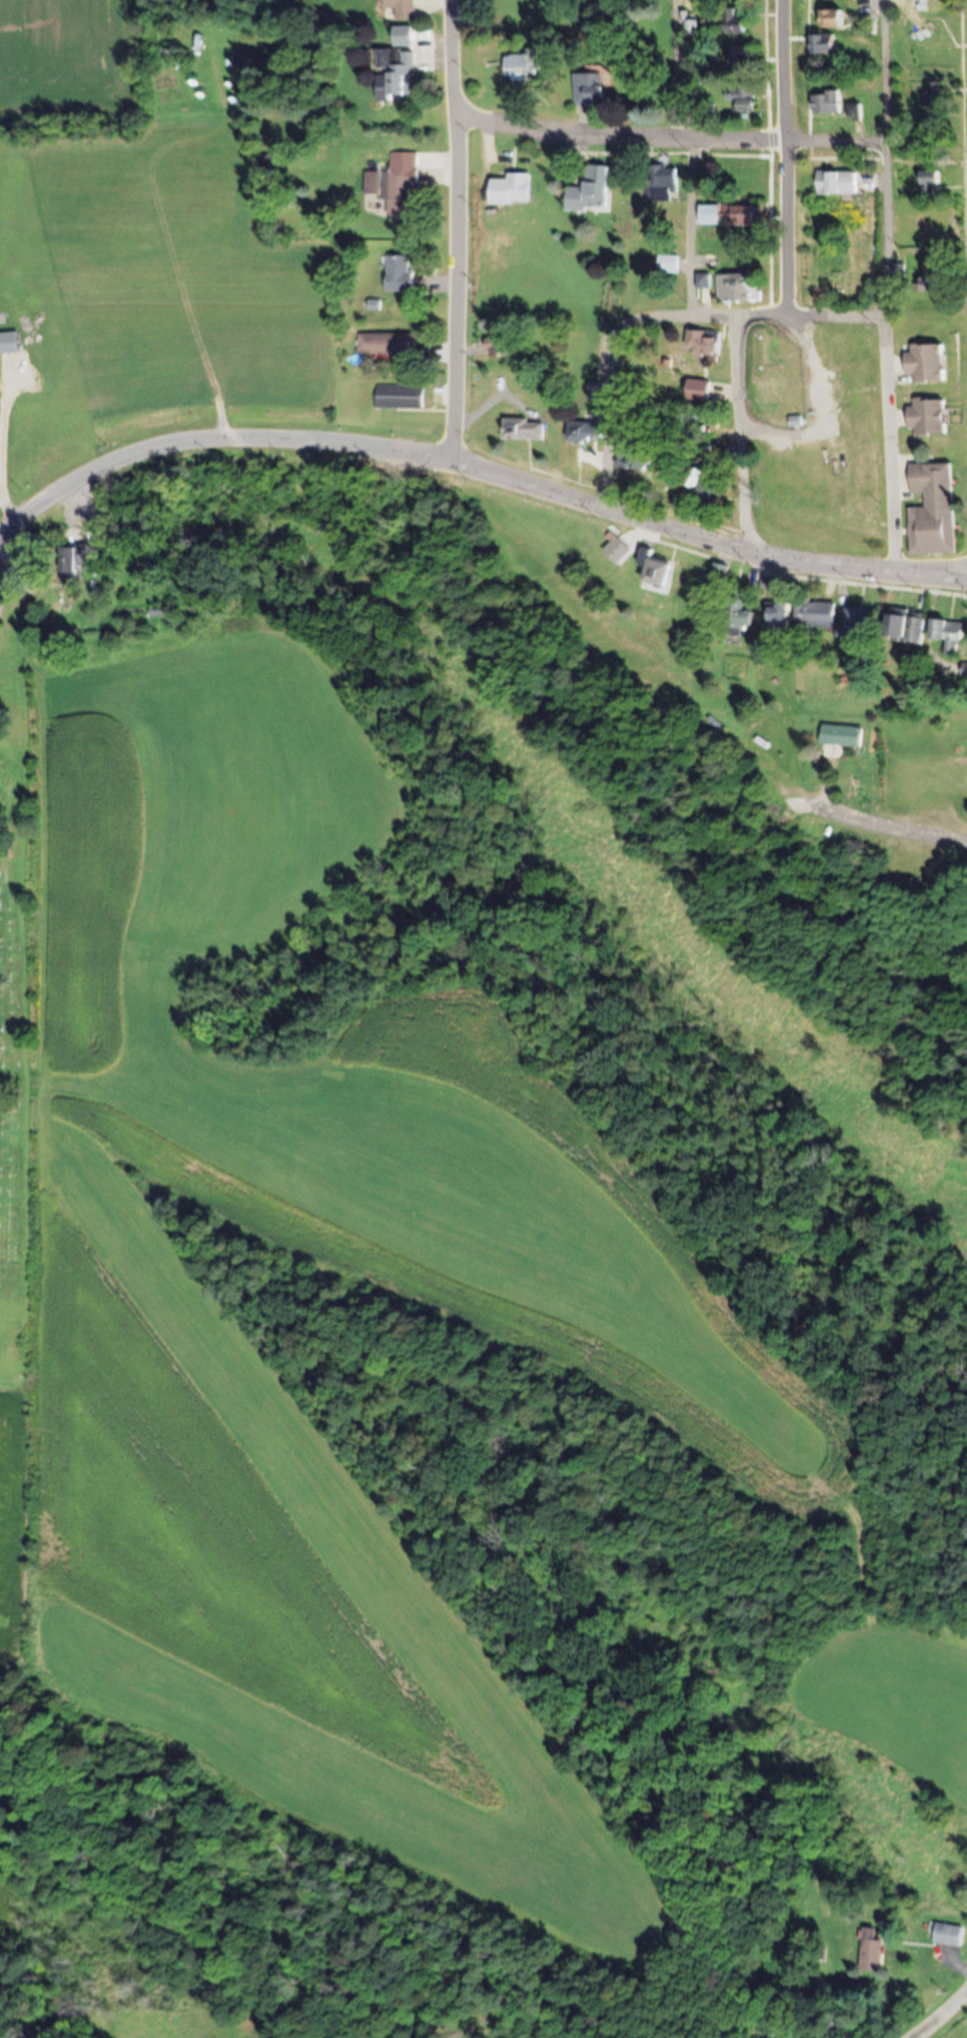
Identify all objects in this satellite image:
building: (403, 7)
building: (832, 20)
building: (736, 22)
building: (930, 37)
building: (825, 44)
building: (740, 56)
building: (521, 68)
road: (678, 70)
building: (395, 74)
building: (589, 89)
building: (742, 97)
building: (828, 103)
road: (671, 139)
road: (787, 158)
building: (749, 178)
building: (932, 181)
building: (838, 183)
building: (666, 184)
building: (392, 190)
building: (511, 190)
building: (590, 192)
building: (713, 215)
building: (749, 216)
building: (934, 218)
road: (695, 227)
road: (459, 228)
building: (670, 265)
building: (399, 275)
building: (933, 278)
building: (709, 282)
road: (888, 285)
building: (737, 289)
road: (804, 316)
building: (705, 344)
building: (387, 346)
building: (499, 346)
building: (927, 365)
building: (697, 391)
building: (400, 398)
building: (930, 418)
building: (523, 431)
road: (739, 432)
building: (584, 433)
road: (8, 435)
building: (632, 462)
road: (477, 463)
building: (700, 484)
road: (9, 508)
building: (933, 510)
building: (617, 550)
building: (72, 563)
building: (654, 568)
building: (718, 574)
building: (814, 612)
building: (737, 615)
building: (778, 615)
building: (852, 624)
building: (905, 626)
building: (950, 633)
building: (840, 735)
road: (887, 827)
building: (949, 1934)
building: (871, 1950)
road: (955, 2005)
road: (928, 2027)

